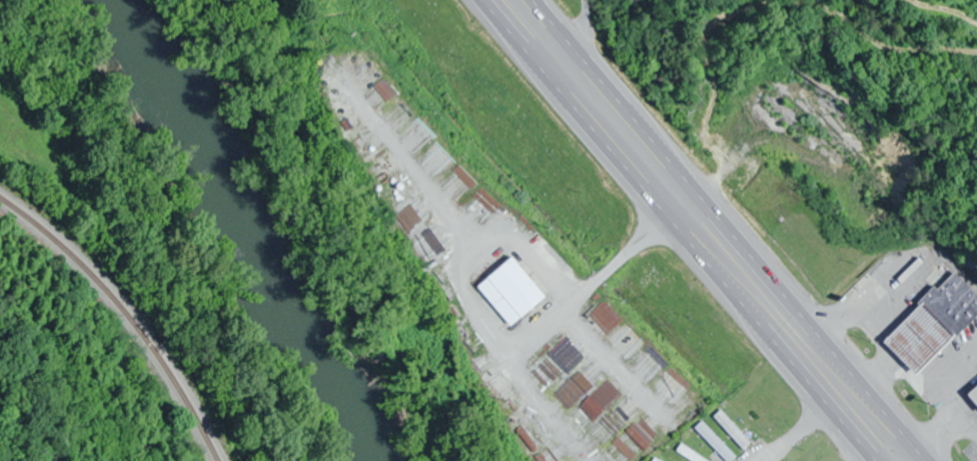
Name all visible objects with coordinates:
road: (712, 65)
building: (439, 160)
building: (486, 207)
road: (691, 214)
river: (251, 229)
road: (731, 229)
road: (676, 230)
building: (517, 289)
railway: (126, 317)
building: (937, 322)
building: (976, 392)
road: (810, 424)
building: (527, 429)
building: (606, 431)
building: (733, 431)
building: (716, 443)
building: (690, 455)
building: (549, 456)
building: (657, 460)

